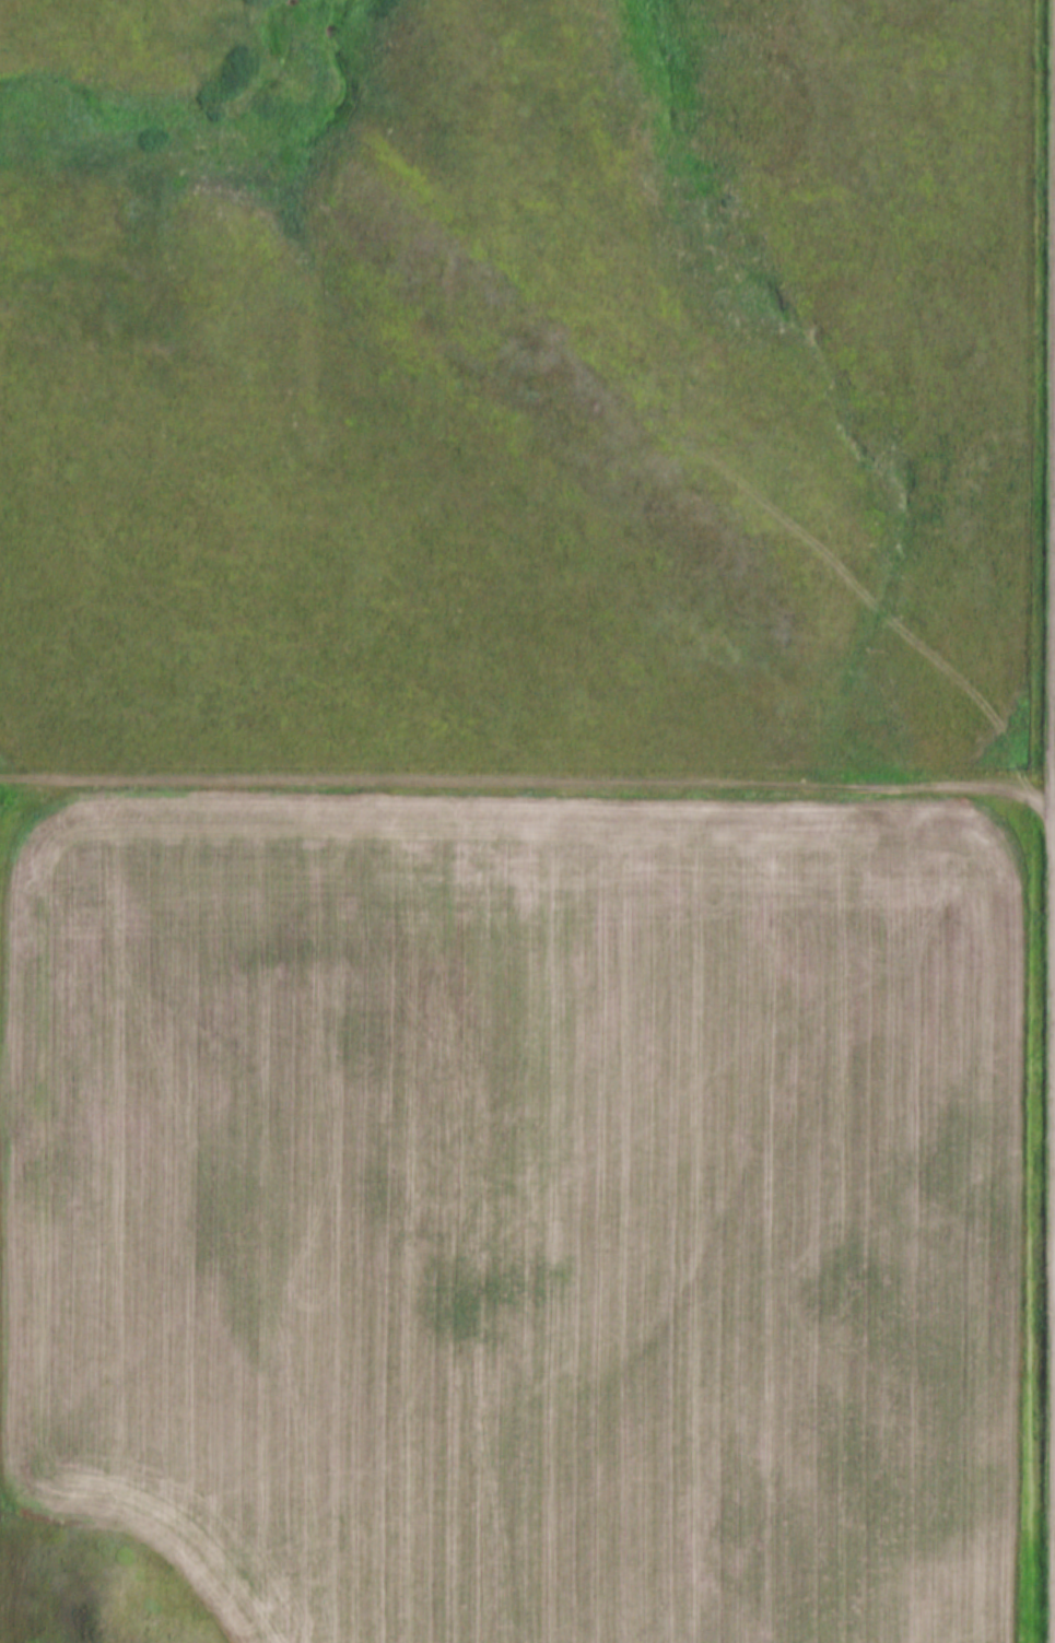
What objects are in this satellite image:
road: (530, 782)
road: (1053, 908)

